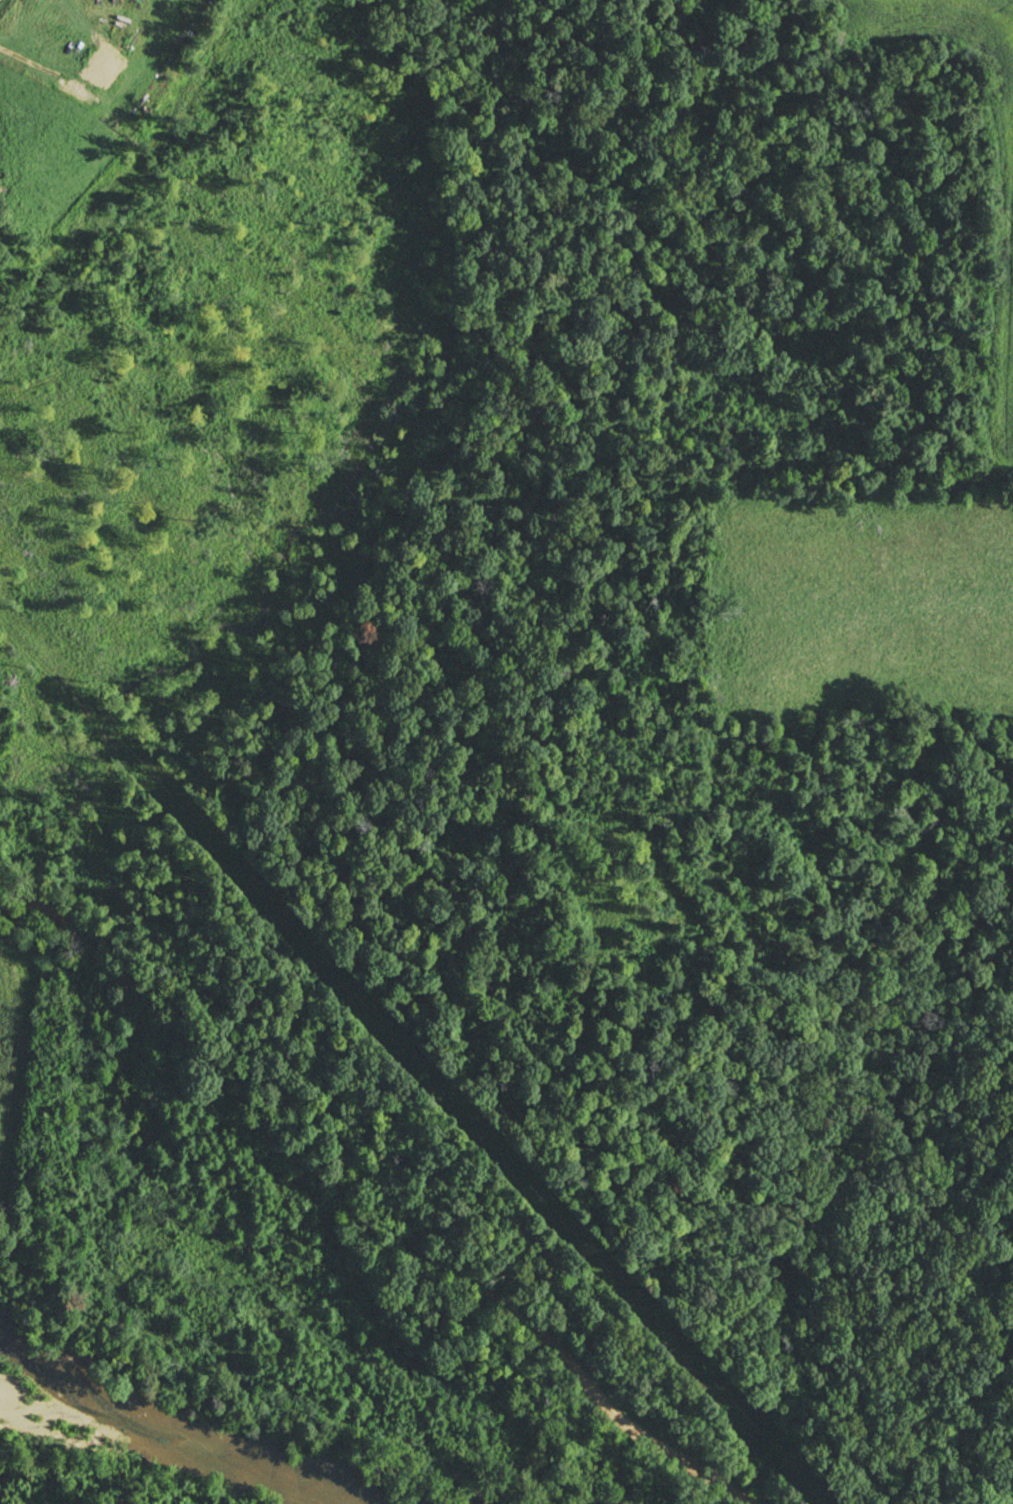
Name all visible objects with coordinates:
road: (358, 1209)
river: (191, 1439)

